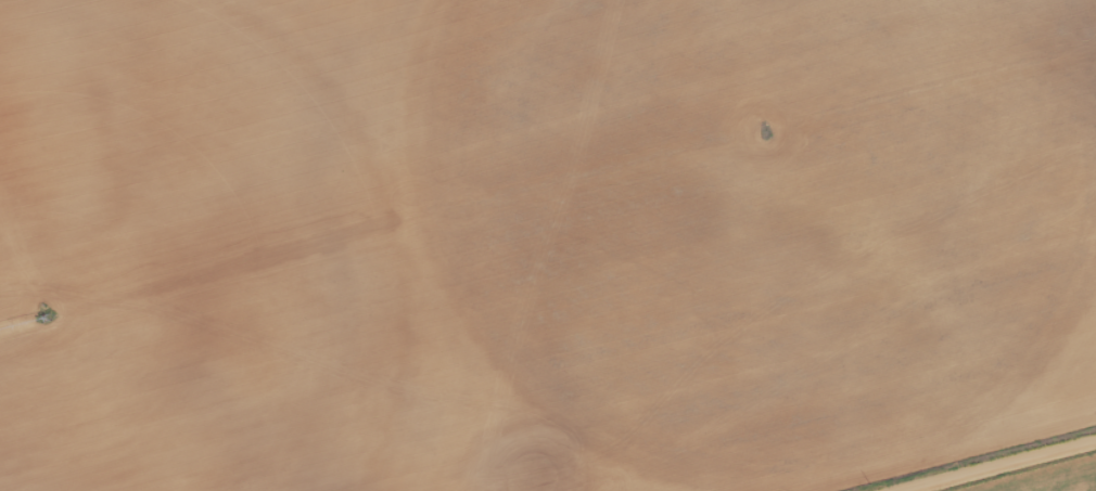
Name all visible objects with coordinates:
road: (989, 464)

